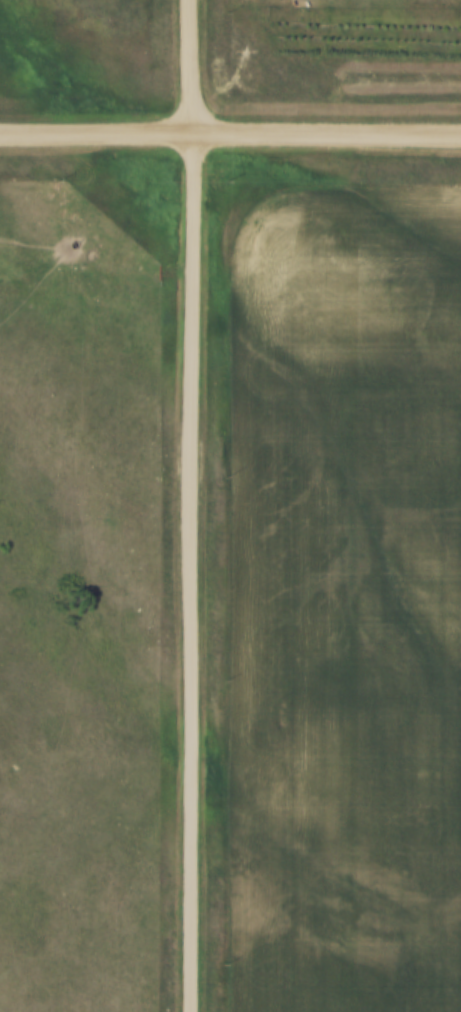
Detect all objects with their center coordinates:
road: (230, 135)
road: (189, 505)

